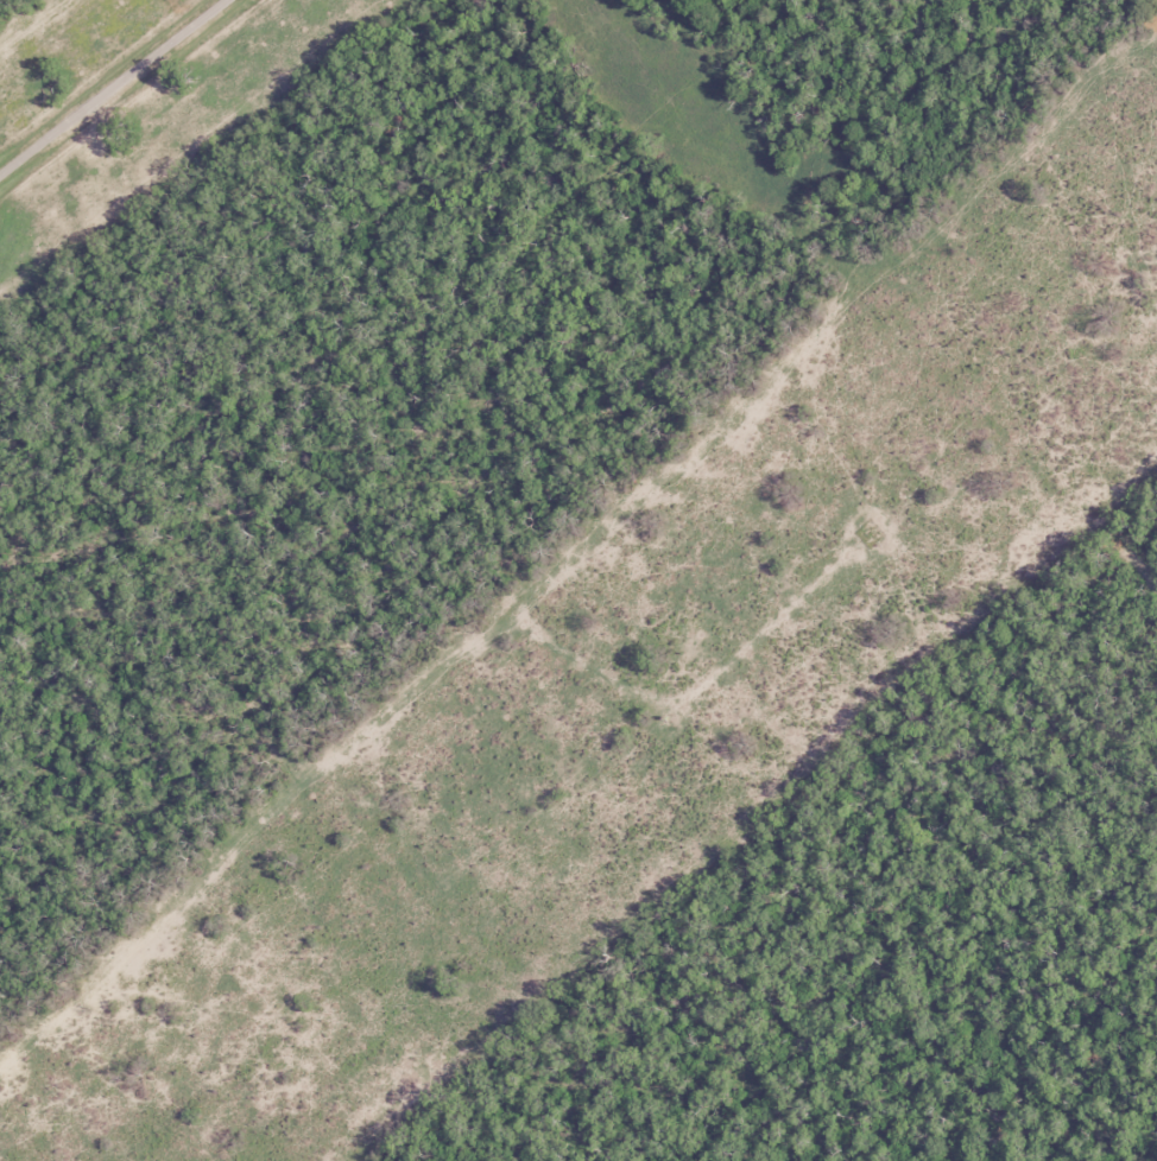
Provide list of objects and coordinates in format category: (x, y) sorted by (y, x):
road: (160, 144)

